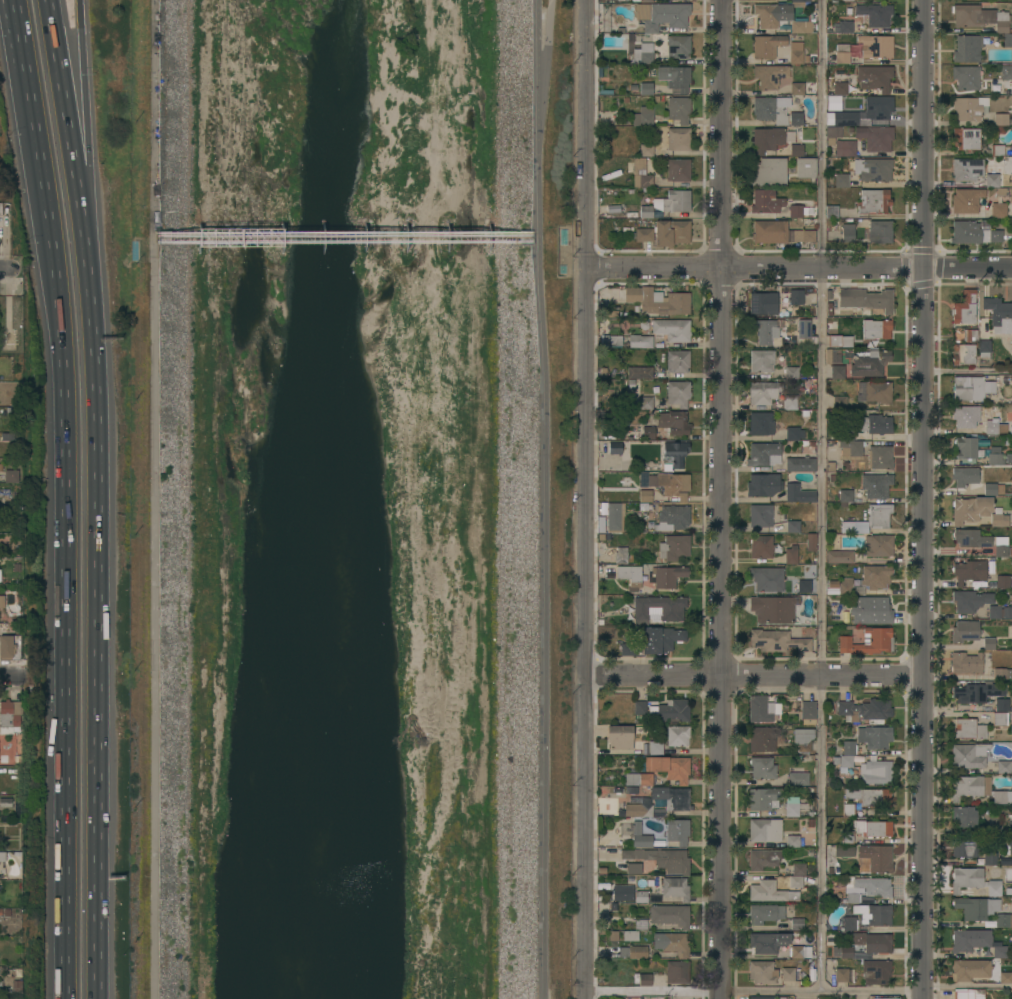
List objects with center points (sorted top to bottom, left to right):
building: (644, 0)
road: (79, 12)
building: (774, 13)
building: (878, 14)
building: (662, 15)
building: (983, 20)
building: (797, 27)
building: (846, 27)
road: (550, 42)
building: (767, 45)
building: (678, 46)
building: (876, 46)
building: (968, 48)
building: (643, 54)
building: (842, 54)
building: (796, 57)
road: (26, 68)
road: (18, 70)
building: (1006, 72)
building: (770, 76)
building: (675, 77)
building: (874, 77)
building: (966, 77)
building: (646, 88)
building: (798, 89)
building: (837, 89)
building: (833, 103)
building: (969, 108)
building: (678, 109)
building: (769, 110)
building: (864, 113)
building: (643, 116)
building: (796, 118)
building: (1001, 119)
road: (70, 131)
building: (834, 132)
building: (875, 137)
building: (678, 139)
building: (767, 139)
building: (966, 139)
road: (84, 144)
building: (845, 148)
building: (646, 150)
building: (796, 150)
building: (997, 150)
building: (806, 168)
building: (871, 169)
building: (967, 169)
building: (678, 170)
building: (768, 172)
building: (641, 174)
building: (842, 180)
building: (992, 180)
building: (966, 200)
building: (874, 201)
building: (674, 202)
building: (766, 202)
building: (0, 208)
building: (796, 210)
building: (998, 210)
building: (646, 212)
building: (832, 212)
building: (671, 232)
building: (880, 232)
building: (974, 232)
building: (779, 233)
building: (848, 233)
building: (643, 234)
road: (4, 269)
road: (799, 270)
building: (792, 297)
building: (866, 299)
building: (659, 300)
building: (763, 303)
building: (964, 308)
building: (14, 314)
building: (999, 314)
building: (876, 328)
building: (671, 330)
building: (766, 331)
building: (805, 332)
building: (970, 335)
building: (615, 341)
building: (640, 341)
building: (839, 341)
building: (984, 348)
building: (963, 354)
building: (677, 361)
building: (761, 361)
building: (869, 362)
road: (968, 370)
building: (837, 372)
building: (640, 373)
building: (791, 373)
building: (989, 387)
building: (962, 388)
building: (764, 392)
building: (875, 392)
building: (678, 393)
building: (790, 402)
building: (839, 402)
building: (645, 403)
building: (965, 416)
building: (673, 422)
building: (760, 423)
building: (875, 424)
building: (993, 428)
building: (1011, 429)
building: (648, 433)
building: (847, 433)
building: (794, 434)
building: (615, 448)
building: (967, 448)
building: (850, 449)
building: (674, 454)
building: (764, 454)
building: (995, 456)
building: (879, 457)
building: (1009, 459)
building: (800, 464)
building: (11, 476)
building: (964, 476)
building: (671, 484)
building: (760, 485)
building: (876, 485)
building: (990, 489)
building: (798, 494)
building: (630, 496)
road: (821, 496)
building: (845, 497)
road: (154, 499)
river: (351, 499)
road: (546, 499)
road: (586, 499)
road: (720, 499)
road: (923, 499)
building: (970, 509)
building: (879, 515)
building: (613, 516)
building: (674, 516)
building: (761, 516)
building: (998, 518)
building: (792, 526)
building: (854, 527)
building: (971, 538)
building: (811, 542)
building: (878, 545)
building: (761, 546)
building: (674, 547)
building: (1001, 551)
building: (791, 554)
building: (620, 555)
building: (839, 557)
road: (67, 566)
building: (969, 571)
building: (0, 575)
building: (630, 576)
building: (666, 576)
building: (875, 577)
building: (767, 578)
building: (1003, 581)
building: (801, 586)
building: (849, 587)
building: (970, 600)
building: (2, 601)
building: (658, 608)
building: (773, 609)
building: (871, 610)
building: (994, 612)
building: (1006, 612)
road: (99, 630)
building: (965, 631)
building: (1011, 631)
building: (660, 639)
building: (777, 641)
building: (868, 641)
building: (988, 643)
building: (10, 648)
building: (628, 649)
building: (966, 663)
building: (1000, 674)
road: (754, 676)
road: (9, 678)
building: (977, 692)
building: (1002, 704)
building: (638, 707)
building: (760, 709)
building: (866, 710)
building: (673, 711)
building: (808, 712)
building: (1011, 712)
building: (10, 718)
building: (1000, 719)
building: (1011, 726)
building: (969, 729)
building: (677, 735)
building: (619, 737)
building: (877, 737)
building: (762, 739)
building: (803, 740)
building: (656, 747)
building: (846, 755)
building: (969, 755)
building: (669, 767)
building: (1004, 767)
building: (762, 768)
building: (876, 771)
building: (638, 779)
building: (798, 779)
building: (977, 789)
building: (870, 797)
building: (764, 798)
building: (677, 801)
building: (792, 806)
building: (849, 810)
building: (964, 816)
building: (994, 825)
building: (873, 828)
building: (765, 830)
building: (677, 831)
building: (640, 836)
building: (847, 837)
building: (792, 841)
building: (965, 846)
building: (1009, 846)
building: (843, 850)
building: (2, 857)
building: (877, 857)
building: (990, 858)
building: (661, 859)
building: (763, 859)
building: (634, 868)
building: (799, 869)
building: (797, 881)
building: (973, 881)
building: (873, 886)
building: (675, 888)
building: (770, 892)
building: (623, 893)
building: (641, 896)
building: (654, 898)
building: (851, 898)
building: (976, 908)
building: (764, 914)
building: (670, 915)
building: (879, 915)
building: (1003, 920)
building: (849, 923)
building: (641, 924)
building: (797, 924)
building: (630, 935)
building: (768, 942)
building: (873, 942)
building: (976, 942)
building: (672, 943)
building: (802, 951)
building: (842, 951)
building: (638, 952)
building: (876, 971)
building: (977, 971)
building: (677, 972)
building: (762, 972)
building: (790, 973)
building: (842, 975)
building: (645, 979)
building: (1, 984)
road: (966, 986)
road: (753, 992)
building: (968, 994)
building: (761, 997)
building: (640, 998)
building: (781, 998)
building: (881, 998)

